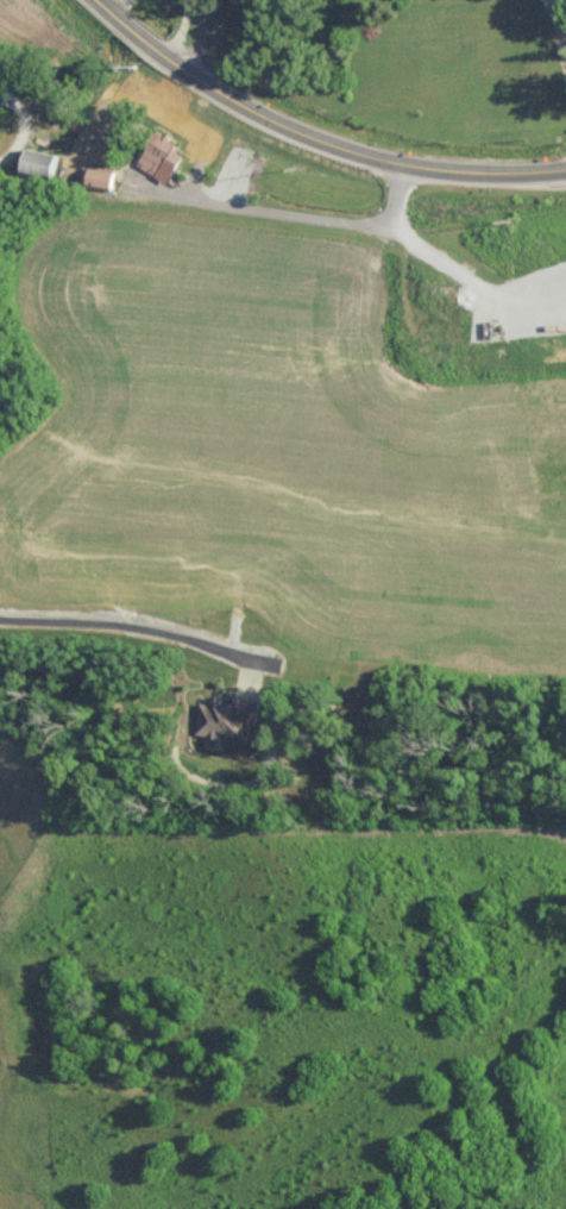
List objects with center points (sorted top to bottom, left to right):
road: (178, 27)
road: (543, 30)
road: (199, 36)
road: (20, 117)
road: (314, 136)
building: (159, 155)
building: (40, 159)
building: (102, 176)
road: (287, 211)
road: (139, 625)
building: (227, 718)

